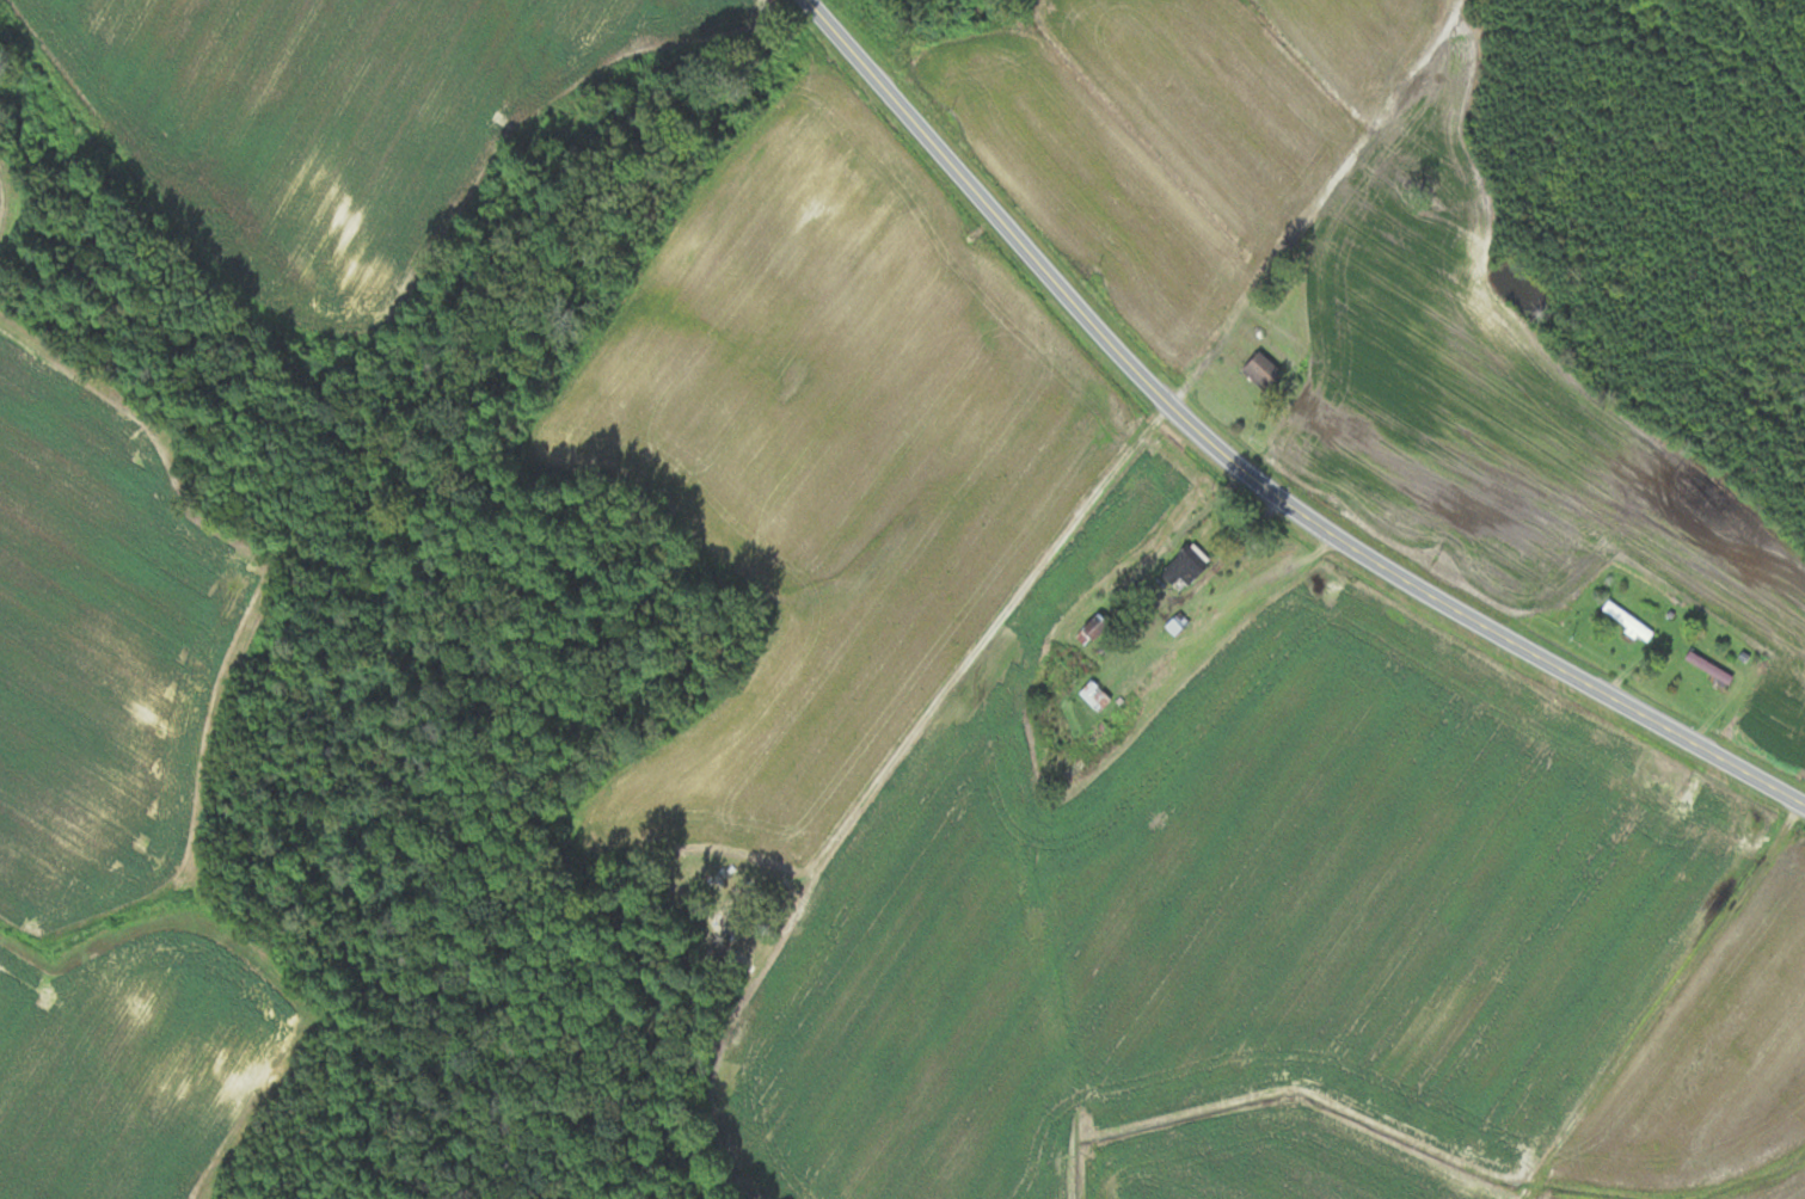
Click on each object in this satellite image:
building: (1264, 369)
road: (1257, 473)
building: (1187, 567)
building: (1628, 622)
building: (1094, 629)
building: (1709, 668)
building: (1095, 695)
park: (723, 911)

